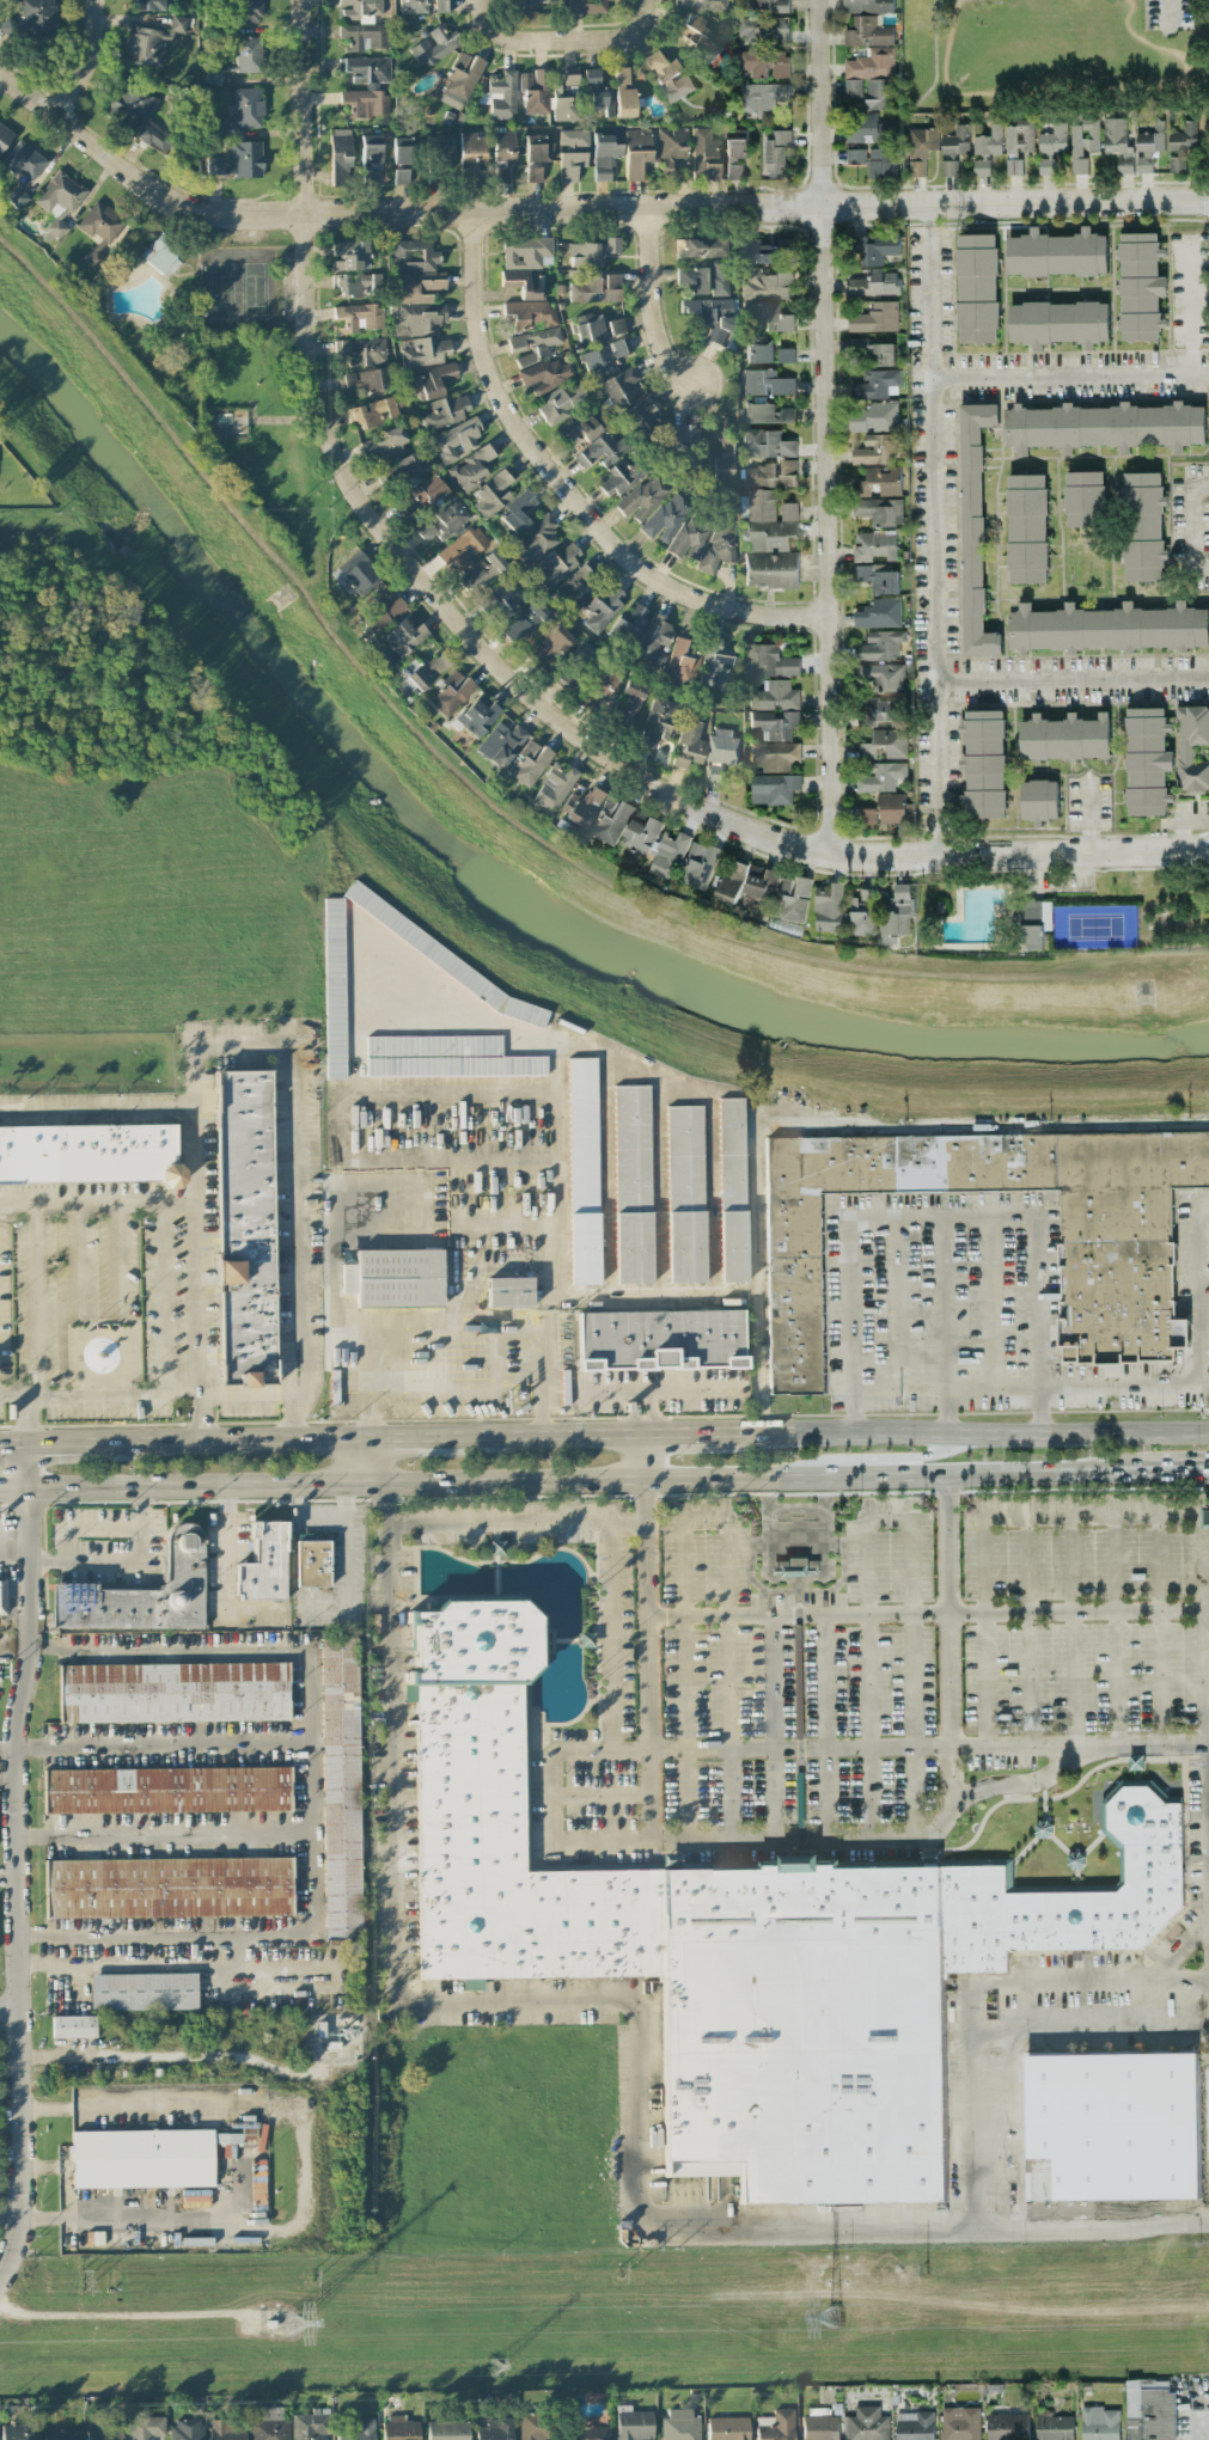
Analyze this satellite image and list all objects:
building: (532, 1)
building: (701, 4)
building: (149, 5)
building: (767, 5)
building: (423, 6)
building: (587, 6)
building: (867, 6)
building: (360, 8)
road: (938, 8)
building: (248, 11)
parking lot: (1167, 14)
road: (1142, 16)
road: (1167, 16)
building: (32, 18)
building: (762, 30)
building: (868, 31)
road: (633, 33)
building: (702, 33)
building: (364, 37)
road: (525, 39)
building: (434, 45)
building: (248, 55)
road: (87, 61)
building: (765, 63)
building: (867, 68)
building: (367, 71)
building: (668, 77)
building: (570, 78)
building: (592, 78)
building: (460, 81)
building: (535, 92)
building: (624, 93)
building: (879, 93)
road: (1082, 93)
building: (500, 96)
building: (763, 96)
building: (602, 100)
road: (915, 100)
building: (563, 102)
building: (365, 103)
building: (244, 110)
building: (138, 116)
building: (863, 129)
building: (1025, 135)
building: (4, 136)
building: (573, 137)
building: (1183, 137)
building: (1010, 140)
building: (955, 141)
building: (988, 141)
building: (1082, 141)
building: (1117, 143)
building: (1148, 146)
building: (672, 147)
building: (1050, 147)
building: (440, 148)
building: (536, 149)
building: (920, 149)
building: (402, 151)
building: (472, 151)
building: (777, 151)
building: (735, 152)
building: (636, 153)
building: (503, 155)
building: (704, 155)
building: (604, 157)
building: (855, 157)
building: (340, 158)
building: (371, 159)
building: (239, 160)
building: (880, 164)
building: (570, 165)
building: (981, 166)
building: (1013, 166)
building: (948, 167)
building: (22, 171)
building: (533, 175)
building: (401, 177)
building: (59, 202)
road: (581, 209)
building: (98, 230)
building: (701, 247)
building: (762, 250)
building: (877, 250)
building: (592, 252)
building: (526, 253)
building: (1057, 253)
building: (349, 256)
building: (414, 257)
building: (161, 258)
road: (306, 267)
building: (692, 279)
building: (523, 283)
building: (874, 283)
building: (356, 285)
building: (765, 286)
building: (1140, 286)
building: (719, 287)
building: (600, 288)
building: (977, 288)
road: (652, 304)
road: (1190, 305)
building: (531, 314)
building: (712, 316)
building: (875, 317)
building: (359, 318)
building: (765, 318)
building: (417, 319)
building: (1058, 323)
building: (588, 326)
building: (616, 326)
building: (533, 345)
building: (759, 349)
building: (362, 350)
building: (873, 351)
building: (426, 353)
building: (784, 355)
building: (603, 359)
building: (547, 375)
road: (1069, 378)
building: (364, 380)
building: (433, 380)
building: (765, 383)
building: (879, 384)
building: (622, 387)
building: (561, 404)
building: (372, 412)
building: (446, 412)
building: (769, 414)
building: (642, 415)
building: (875, 417)
building: (1104, 426)
road: (824, 427)
building: (578, 428)
building: (457, 440)
building: (767, 444)
building: (877, 448)
building: (600, 451)
building: (722, 451)
building: (391, 457)
building: (471, 469)
building: (769, 475)
building: (617, 479)
building: (881, 481)
road: (567, 490)
building: (428, 491)
building: (493, 494)
building: (643, 499)
building: (1083, 499)
building: (408, 504)
building: (879, 510)
building: (517, 513)
building: (667, 519)
building: (444, 521)
road: (1189, 526)
building: (1143, 527)
building: (1026, 528)
road: (932, 530)
building: (973, 530)
building: (690, 538)
building: (538, 539)
building: (719, 543)
building: (873, 545)
building: (464, 549)
building: (560, 562)
building: (359, 573)
building: (482, 573)
building: (879, 577)
building: (578, 583)
building: (506, 598)
building: (604, 607)
building: (384, 611)
building: (879, 613)
building: (525, 624)
building: (1107, 629)
building: (627, 630)
building: (404, 637)
building: (654, 642)
building: (880, 644)
building: (551, 646)
building: (768, 661)
building: (683, 662)
building: (715, 662)
building: (575, 665)
building: (420, 669)
building: (881, 675)
road: (1070, 679)
building: (606, 681)
building: (450, 695)
building: (774, 696)
building: (628, 703)
building: (477, 716)
building: (660, 720)
building: (774, 723)
building: (881, 728)
building: (1064, 738)
building: (501, 742)
building: (689, 744)
building: (722, 746)
building: (1191, 747)
building: (774, 756)
building: (1147, 762)
building: (983, 763)
building: (530, 764)
building: (713, 773)
building: (881, 776)
building: (554, 787)
building: (773, 788)
building: (1039, 800)
building: (581, 807)
building: (891, 808)
road: (1088, 813)
building: (866, 815)
building: (610, 820)
road: (1179, 820)
road: (735, 824)
building: (654, 845)
building: (700, 864)
river: (494, 882)
building: (747, 882)
building: (867, 894)
building: (793, 898)
building: (828, 907)
building: (896, 915)
building: (862, 916)
building: (1033, 923)
park: (1093, 927)
building: (442, 958)
building: (334, 987)
building: (445, 1057)
road: (558, 1068)
road: (413, 1091)
road: (145, 1109)
road: (982, 1121)
building: (90, 1154)
road: (294, 1168)
building: (582, 1170)
building: (633, 1184)
building: (732, 1190)
building: (685, 1194)
road: (361, 1199)
road: (946, 1218)
road: (191, 1228)
building: (245, 1229)
road: (77, 1256)
road: (465, 1265)
road: (756, 1276)
road: (120, 1277)
building: (395, 1278)
building: (1119, 1283)
road: (1205, 1284)
building: (509, 1292)
road: (653, 1295)
road: (36, 1302)
road: (165, 1302)
road: (991, 1304)
road: (897, 1305)
road: (57, 1309)
road: (547, 1315)
road: (944, 1325)
flagpole: (90, 1326)
flagpole: (100, 1326)
flagpole: (111, 1326)
road: (445, 1329)
building: (660, 1340)
road: (1180, 1346)
road: (1198, 1372)
road: (661, 1390)
road: (944, 1390)
road: (457, 1393)
road: (167, 1396)
road: (14, 1398)
flagpole: (1107, 1400)
flagpole: (1116, 1401)
flagpole: (1111, 1402)
road: (542, 1406)
road: (645, 1411)
road: (370, 1415)
flagpole: (165, 1418)
flagpole: (96, 1419)
flagpole: (109, 1419)
flagpole: (123, 1419)
flagpole: (136, 1419)
flagpole: (151, 1419)
road: (29, 1420)
flagpole: (53, 1420)
flagpole: (67, 1420)
flagpole: (81, 1420)
road: (680, 1431)
road: (963, 1431)
road: (545, 1433)
road: (395, 1437)
road: (172, 1441)
road: (946, 1453)
road: (643, 1454)
road: (1179, 1468)
road: (1048, 1470)
road: (874, 1475)
road: (416, 1480)
road: (14, 1485)
road: (306, 1512)
road: (1089, 1516)
building: (1205, 1517)
road: (703, 1519)
road: (885, 1519)
road: (515, 1522)
road: (346, 1545)
building: (495, 1547)
road: (126, 1559)
building: (263, 1563)
building: (312, 1563)
road: (226, 1571)
road: (495, 1577)
fountain: (557, 1580)
building: (142, 1592)
building: (2, 1598)
road: (927, 1614)
road: (1115, 1629)
road: (1155, 1629)
road: (1027, 1631)
road: (1070, 1631)
road: (982, 1632)
road: (609, 1635)
road: (947, 1639)
road: (557, 1640)
building: (586, 1640)
building: (472, 1644)
road: (154, 1650)
road: (646, 1658)
road: (908, 1677)
road: (726, 1678)
road: (866, 1678)
road: (683, 1680)
building: (172, 1693)
road: (822, 1725)
road: (770, 1726)
road: (928, 1747)
road: (1204, 1747)
road: (155, 1749)
road: (556, 1751)
road: (1001, 1782)
building: (165, 1790)
building: (341, 1790)
road: (599, 1794)
building: (1143, 1816)
road: (166, 1836)
road: (738, 1837)
road: (17, 1860)
building: (509, 1860)
road: (8, 1884)
building: (167, 1886)
building: (1101, 1906)
building: (973, 1918)
building: (800, 1920)
road: (312, 1947)
road: (1179, 1951)
building: (471, 1985)
building: (144, 1990)
road: (975, 1995)
road: (11, 2007)
road: (639, 2022)
building: (73, 2025)
road: (1087, 2030)
road: (185, 2055)
road: (36, 2056)
building: (810, 2084)
road: (160, 2103)
building: (1116, 2122)
road: (1013, 2132)
building: (239, 2135)
building: (142, 2158)
road: (142, 2218)
road: (49, 2219)
road: (8, 2222)
power tower: (926, 2271)
power tower: (618, 2274)
power tower: (83, 2280)
power tower: (311, 2280)
power tower: (832, 2317)
power tower: (287, 2325)
power tower: (493, 2367)
building: (1149, 2410)
building: (633, 2423)
building: (959, 2423)
building: (1099, 2423)
building: (310, 2424)
building: (679, 2424)
building: (819, 2424)
building: (866, 2424)
building: (532, 2426)
building: (915, 2426)
building: (1007, 2426)
building: (1054, 2427)
building: (145, 2428)
building: (727, 2428)
building: (102, 2429)
building: (187, 2429)
building: (354, 2429)
building: (399, 2429)
building: (226, 2430)
building: (447, 2430)
building: (495, 2430)
building: (588, 2430)
building: (16, 2432)
building: (59, 2434)

